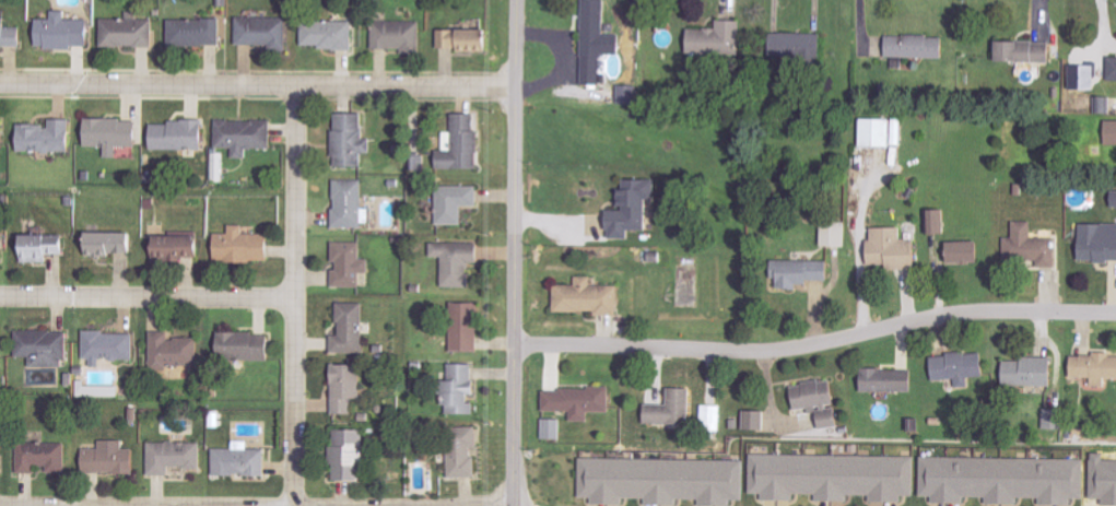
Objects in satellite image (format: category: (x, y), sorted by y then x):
building: (66, 32)
building: (197, 32)
building: (266, 32)
building: (10, 33)
building: (130, 33)
building: (330, 35)
building: (399, 36)
building: (719, 38)
building: (467, 39)
building: (598, 40)
building: (799, 45)
building: (918, 46)
building: (1027, 50)
building: (1114, 69)
road: (257, 84)
building: (630, 94)
building: (2, 132)
building: (879, 132)
building: (901, 132)
building: (1112, 132)
building: (114, 134)
building: (179, 136)
building: (246, 136)
building: (48, 137)
building: (352, 140)
building: (463, 144)
building: (458, 202)
building: (352, 204)
building: (1115, 204)
building: (635, 209)
building: (939, 221)
building: (837, 233)
building: (1100, 243)
building: (114, 244)
building: (245, 245)
building: (46, 247)
building: (179, 247)
building: (1032, 247)
building: (3, 249)
building: (894, 249)
road: (513, 252)
building: (967, 252)
building: (459, 262)
building: (351, 264)
building: (802, 272)
road: (146, 295)
road: (293, 295)
building: (589, 297)
building: (468, 326)
building: (352, 329)
road: (814, 341)
building: (110, 346)
building: (247, 346)
building: (46, 348)
building: (1, 350)
building: (175, 351)
building: (962, 366)
building: (1096, 367)
building: (1032, 372)
building: (891, 380)
building: (348, 387)
building: (462, 390)
building: (821, 401)
building: (579, 402)
building: (674, 409)
building: (714, 417)
building: (1057, 419)
building: (756, 421)
building: (555, 428)
building: (466, 451)
building: (351, 455)
building: (45, 457)
building: (176, 457)
building: (111, 458)
building: (2, 461)
building: (242, 461)
building: (835, 476)
building: (1006, 480)
building: (663, 481)

